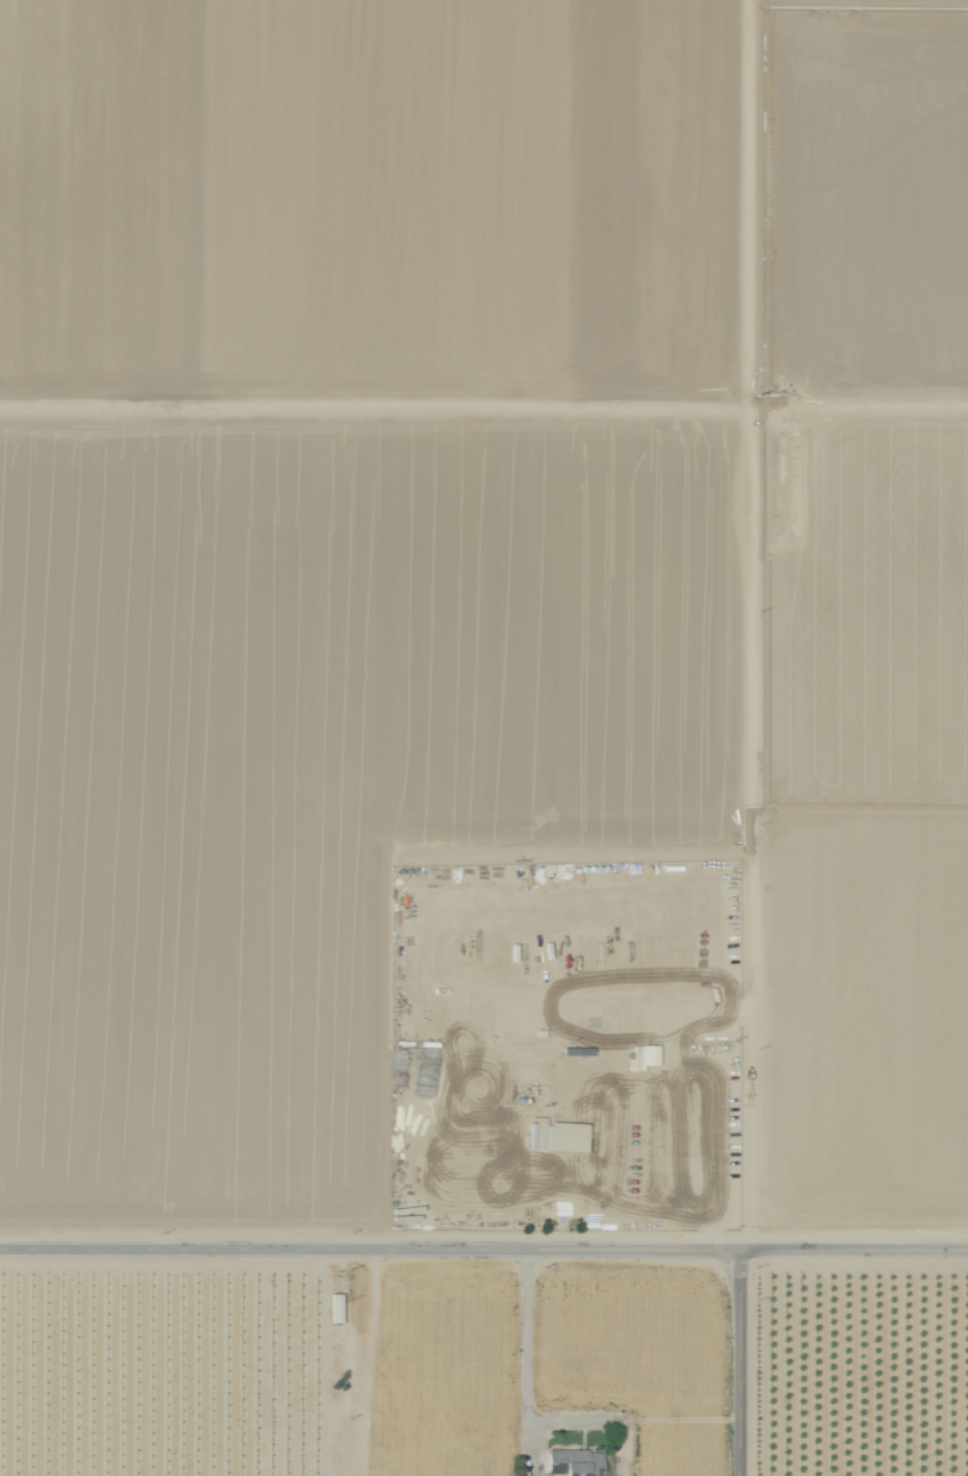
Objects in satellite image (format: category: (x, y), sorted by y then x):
crop: (470, 555)
road: (736, 625)
road: (565, 919)
building: (566, 1137)
road: (484, 1250)
road: (525, 1363)
road: (738, 1363)
road: (632, 1419)
building: (573, 1463)

